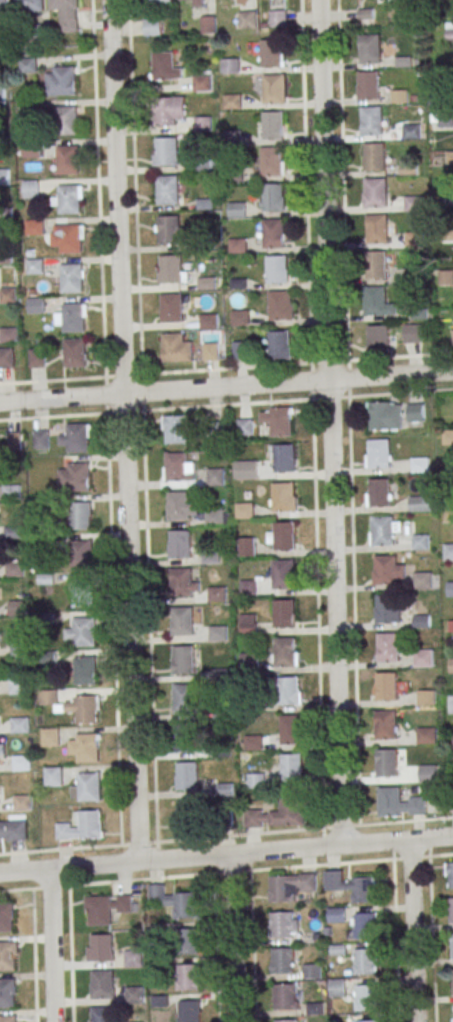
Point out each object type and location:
building: (160, 0)
building: (199, 3)
building: (29, 5)
building: (4, 9)
building: (397, 10)
building: (67, 13)
building: (278, 17)
building: (247, 19)
building: (208, 24)
building: (152, 26)
building: (450, 31)
building: (42, 33)
building: (372, 51)
building: (272, 55)
building: (28, 64)
building: (230, 65)
building: (164, 67)
building: (443, 81)
building: (65, 82)
building: (201, 82)
building: (369, 86)
building: (275, 90)
building: (400, 97)
building: (166, 113)
building: (446, 120)
building: (67, 122)
building: (372, 122)
building: (203, 123)
building: (274, 127)
building: (411, 133)
building: (167, 153)
building: (67, 159)
building: (376, 159)
building: (272, 163)
building: (4, 176)
building: (31, 189)
building: (168, 191)
building: (376, 194)
building: (274, 199)
building: (447, 199)
building: (70, 201)
building: (414, 205)
building: (236, 209)
building: (34, 227)
building: (378, 230)
building: (170, 232)
building: (275, 235)
building: (71, 241)
building: (415, 241)
building: (34, 266)
building: (377, 267)
building: (172, 271)
building: (278, 271)
building: (414, 277)
building: (446, 279)
building: (73, 280)
building: (7, 295)
building: (377, 304)
building: (36, 305)
building: (281, 307)
building: (173, 309)
building: (240, 317)
building: (73, 320)
building: (208, 321)
building: (412, 334)
building: (452, 334)
building: (8, 335)
building: (378, 341)
building: (280, 347)
building: (174, 350)
building: (210, 350)
building: (75, 355)
building: (36, 357)
road: (400, 357)
building: (6, 359)
road: (328, 362)
road: (244, 367)
road: (226, 387)
road: (155, 410)
building: (415, 412)
building: (385, 418)
road: (143, 421)
road: (106, 423)
building: (279, 423)
road: (330, 423)
building: (245, 429)
road: (122, 430)
building: (214, 432)
building: (177, 433)
building: (447, 437)
building: (77, 438)
building: (41, 439)
building: (10, 443)
building: (381, 456)
building: (285, 460)
building: (420, 467)
building: (177, 468)
building: (246, 471)
building: (73, 476)
building: (448, 477)
building: (215, 478)
building: (11, 494)
building: (380, 495)
building: (284, 499)
building: (45, 506)
building: (420, 506)
building: (179, 508)
building: (244, 512)
building: (448, 515)
building: (81, 518)
building: (214, 519)
building: (384, 533)
building: (13, 534)
building: (285, 538)
building: (45, 541)
building: (420, 543)
building: (180, 546)
building: (246, 546)
building: (448, 554)
building: (82, 556)
building: (211, 558)
building: (15, 571)
building: (388, 572)
building: (284, 576)
building: (46, 581)
building: (422, 582)
building: (182, 585)
building: (248, 589)
building: (450, 591)
building: (82, 595)
building: (217, 596)
building: (16, 609)
building: (387, 610)
road: (353, 611)
road: (317, 614)
building: (285, 616)
building: (47, 620)
building: (422, 622)
building: (183, 623)
building: (248, 625)
building: (85, 634)
building: (218, 635)
building: (388, 649)
building: (18, 651)
building: (286, 654)
building: (48, 658)
building: (249, 660)
building: (423, 660)
building: (184, 662)
building: (451, 667)
building: (86, 672)
building: (220, 676)
building: (19, 688)
building: (388, 689)
building: (289, 693)
building: (49, 699)
building: (426, 699)
building: (184, 700)
building: (452, 705)
building: (253, 706)
building: (87, 712)
building: (222, 712)
building: (20, 727)
building: (387, 727)
building: (292, 731)
building: (427, 737)
building: (51, 738)
building: (186, 739)
building: (253, 743)
building: (88, 750)
building: (223, 751)
building: (2, 752)
building: (21, 764)
building: (387, 765)
building: (292, 770)
building: (54, 777)
building: (188, 779)
building: (256, 782)
building: (90, 789)
building: (225, 791)
building: (23, 804)
building: (391, 804)
building: (292, 812)
building: (189, 817)
building: (225, 819)
building: (81, 826)
building: (14, 833)
road: (226, 837)
road: (226, 854)
road: (333, 864)
building: (450, 875)
road: (106, 883)
building: (280, 888)
building: (363, 890)
building: (185, 905)
building: (450, 910)
building: (99, 911)
building: (337, 914)
building: (6, 917)
building: (281, 924)
building: (366, 925)
road: (413, 931)
road: (233, 937)
road: (432, 939)
road: (396, 941)
building: (187, 942)
road: (52, 945)
road: (252, 946)
building: (451, 947)
building: (101, 948)
road: (216, 948)
road: (70, 954)
building: (7, 956)
road: (33, 956)
building: (133, 958)
building: (283, 960)
building: (365, 962)
building: (312, 971)
building: (188, 977)
building: (452, 977)
building: (102, 984)
building: (338, 986)
building: (7, 992)
building: (134, 995)
building: (284, 996)
building: (367, 998)
building: (315, 1008)
building: (189, 1011)
building: (102, 1015)
building: (8, 1019)
building: (287, 1020)
building: (367, 1021)

